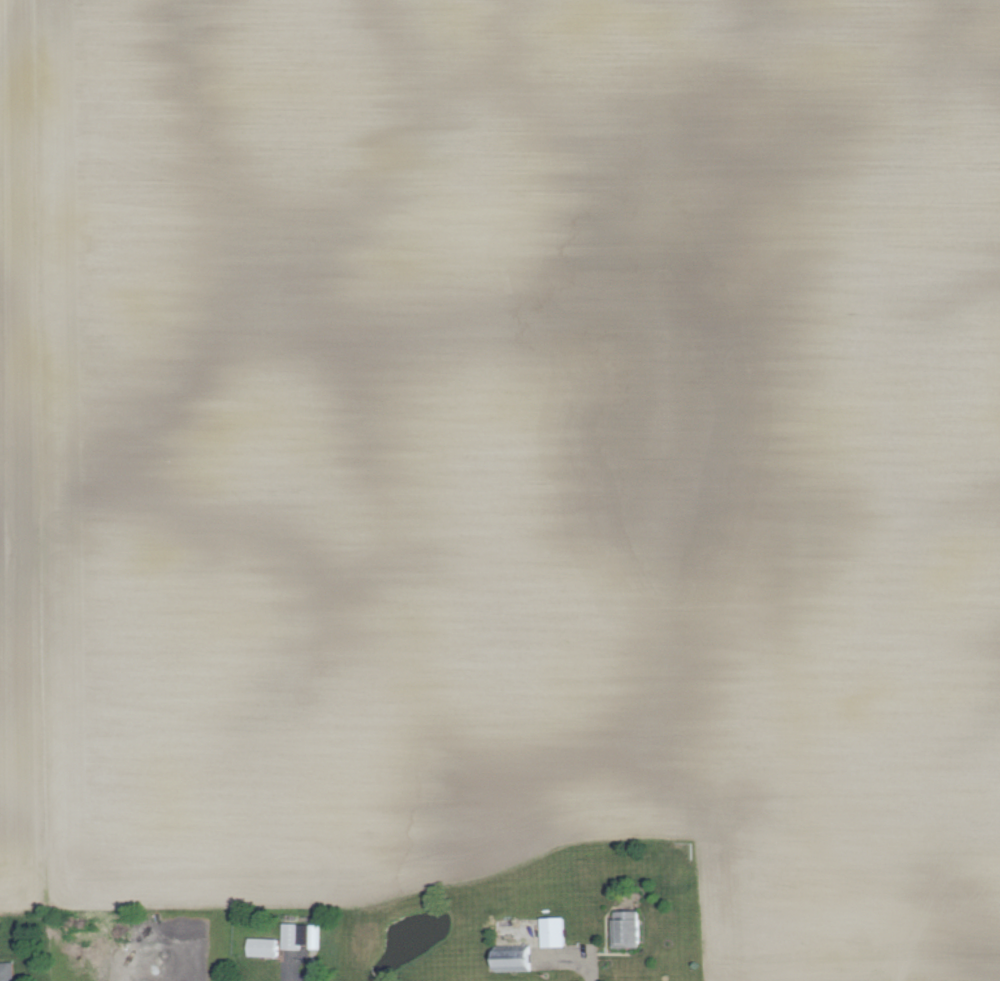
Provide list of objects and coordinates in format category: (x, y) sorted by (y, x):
building: (632, 929)
building: (556, 931)
building: (300, 934)
building: (266, 946)
building: (8, 971)

